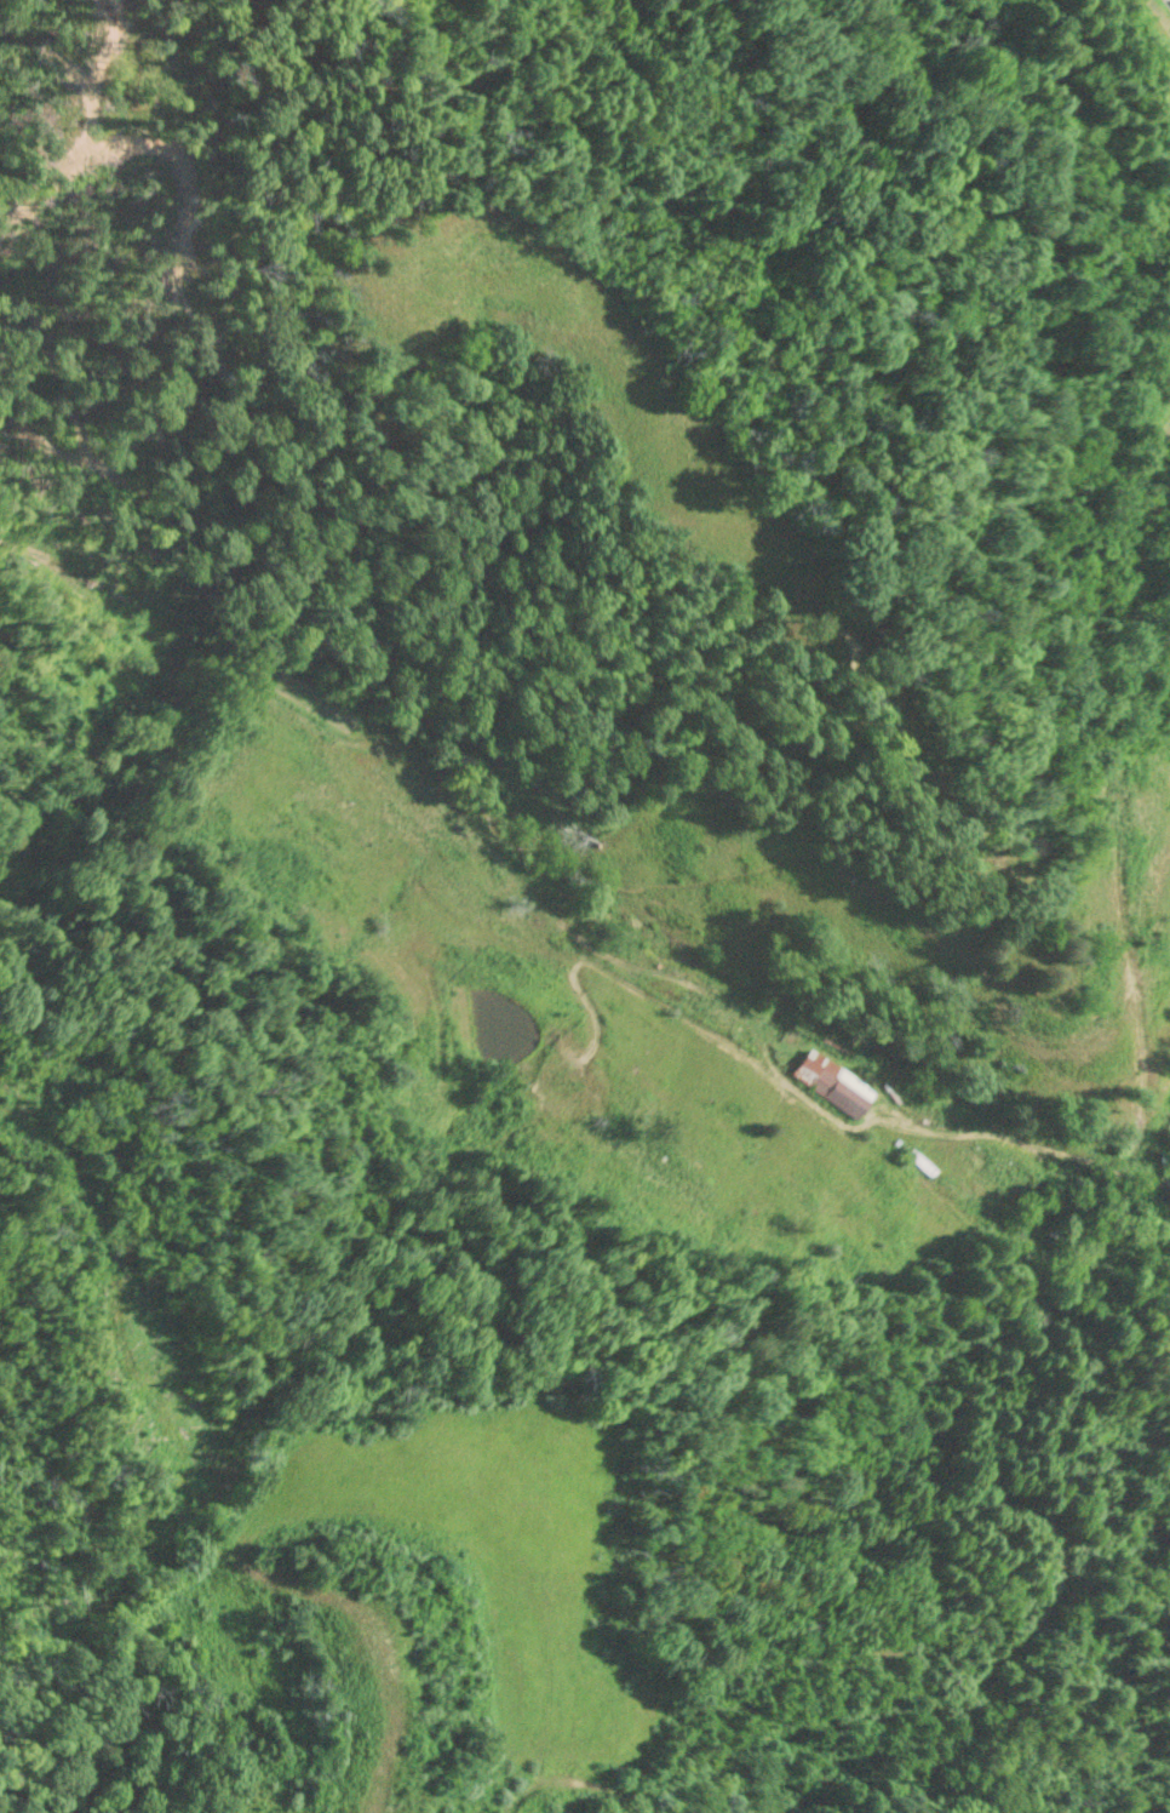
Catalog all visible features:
road: (833, 573)
building: (832, 1085)
building: (1032, 1245)

